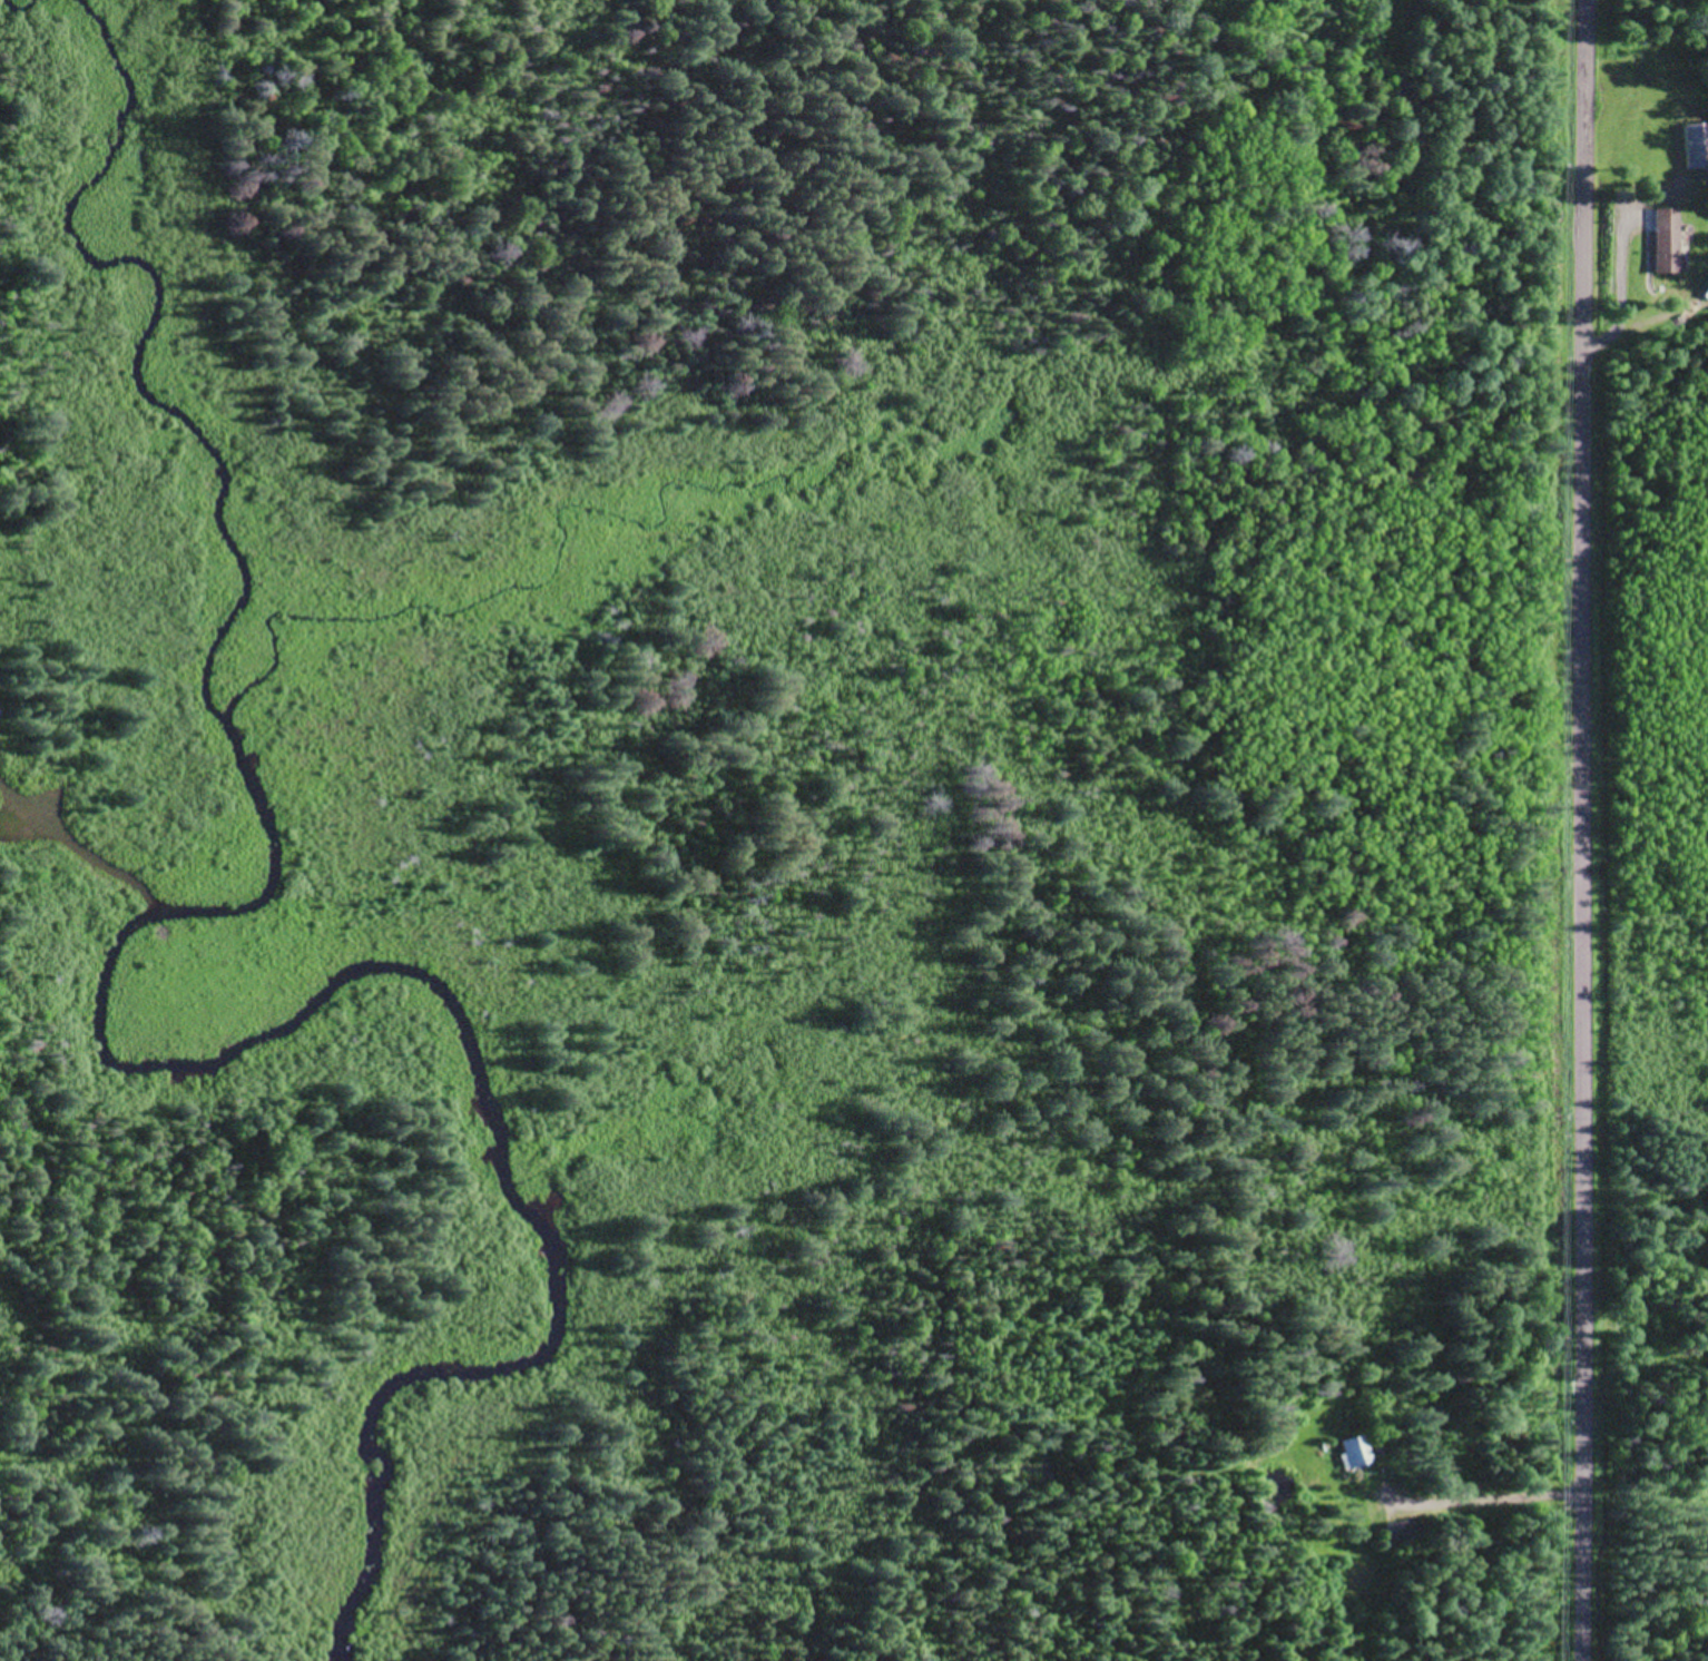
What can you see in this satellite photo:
building: (1696, 144)
building: (1662, 238)
road: (1582, 830)
building: (1357, 1448)
building: (1404, 1531)

